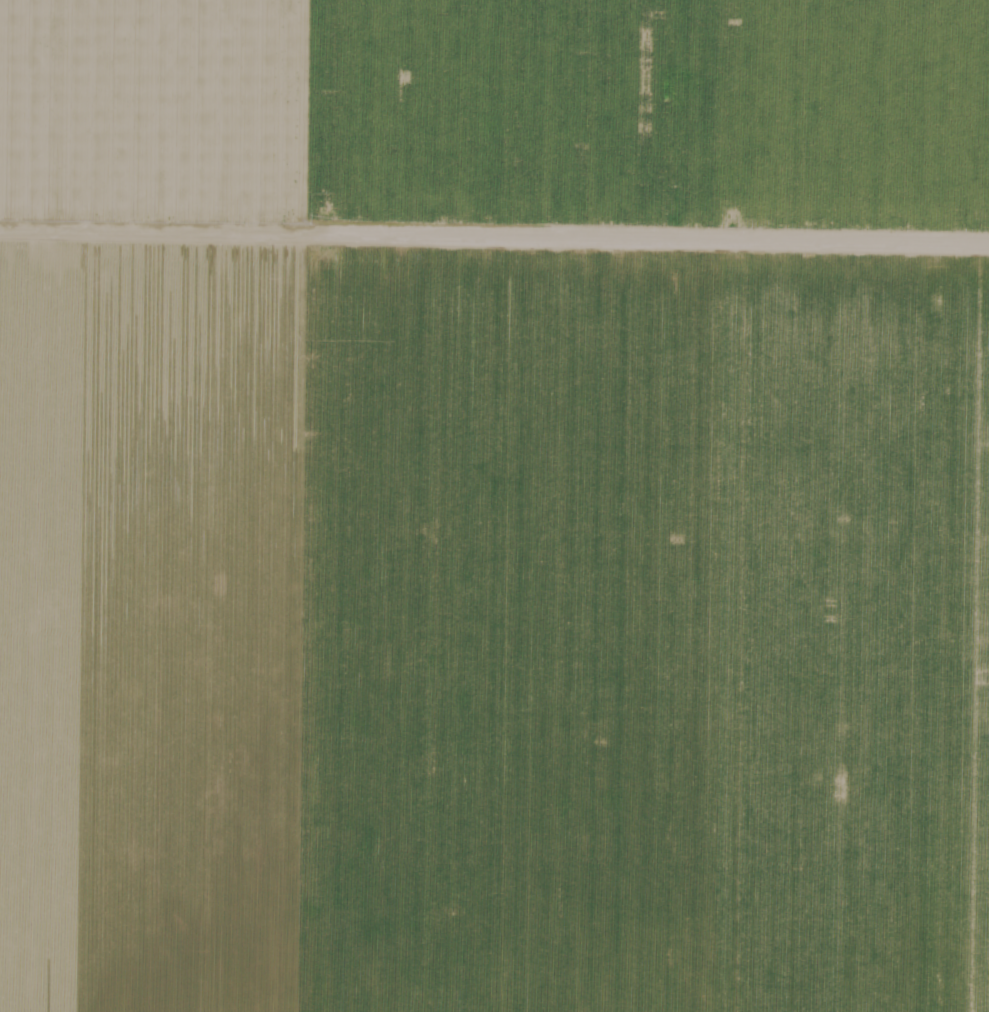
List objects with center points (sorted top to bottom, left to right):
crop: (494, 506)

